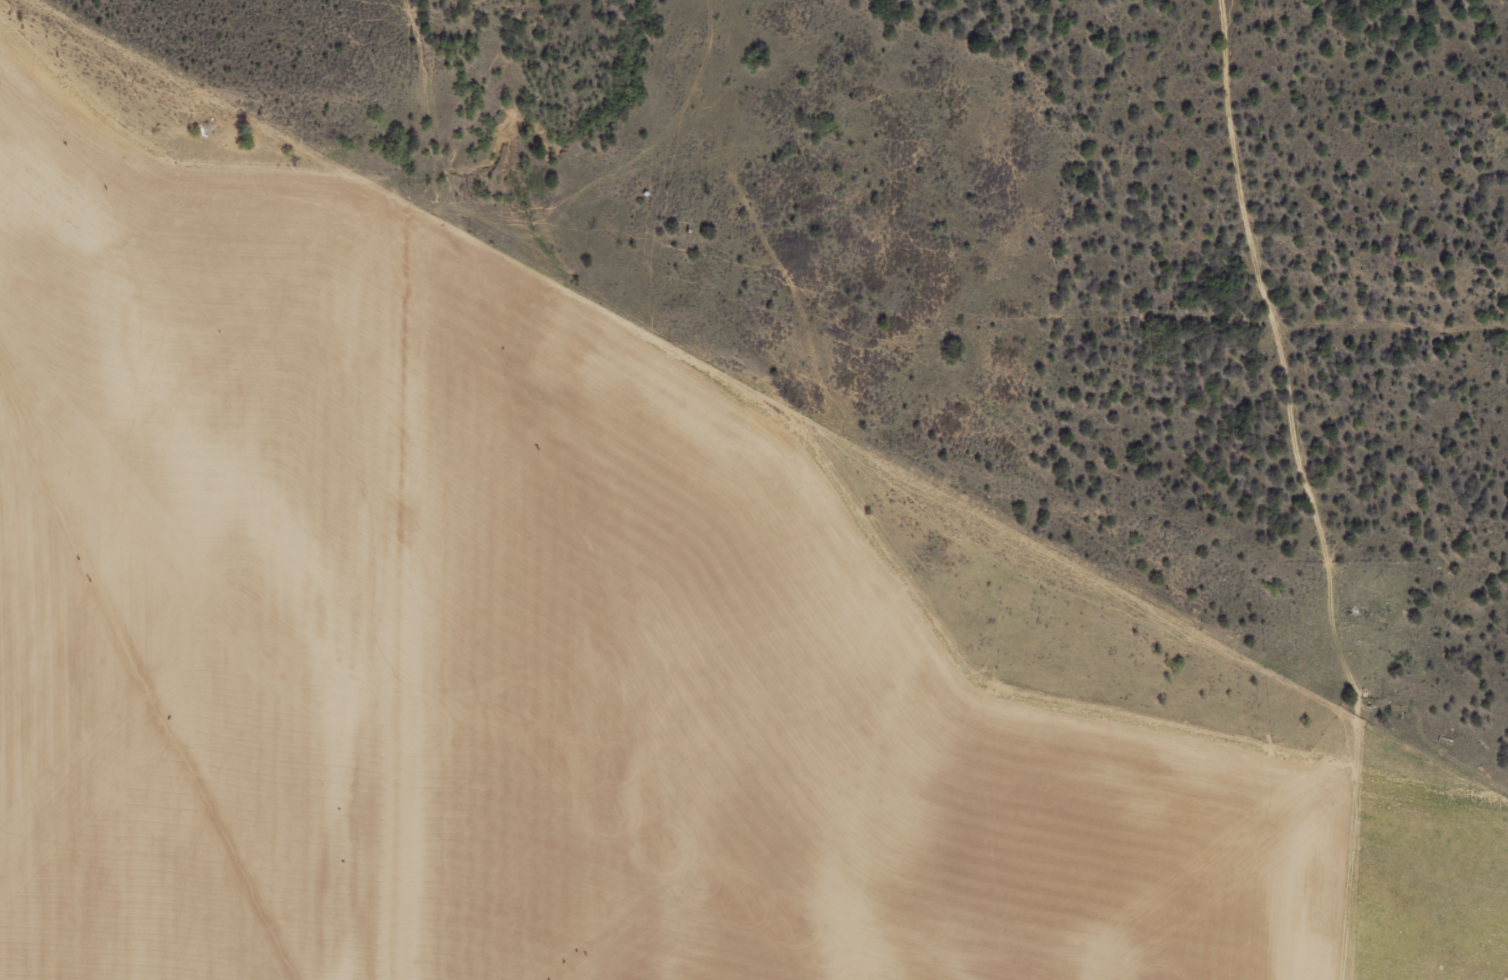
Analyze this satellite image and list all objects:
road: (1309, 491)

